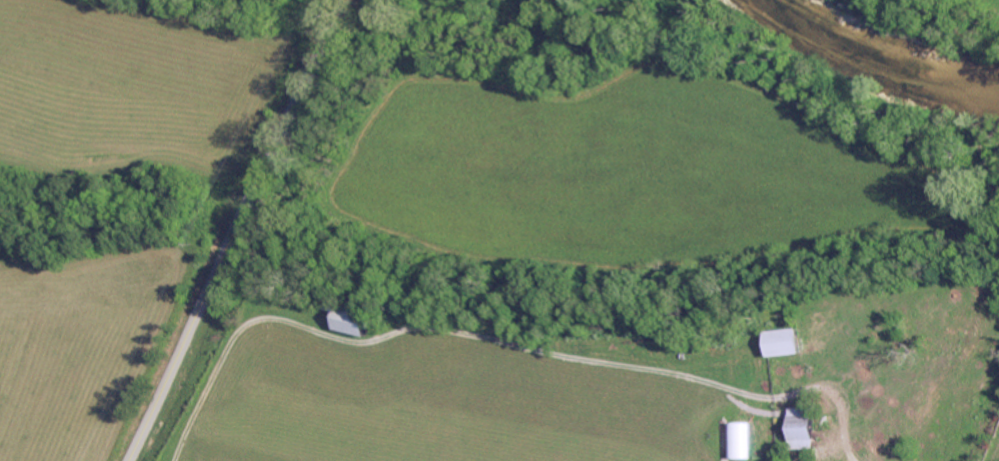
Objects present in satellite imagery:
road: (235, 230)
building: (365, 320)
building: (792, 341)
road: (498, 343)
building: (807, 428)
building: (740, 440)

